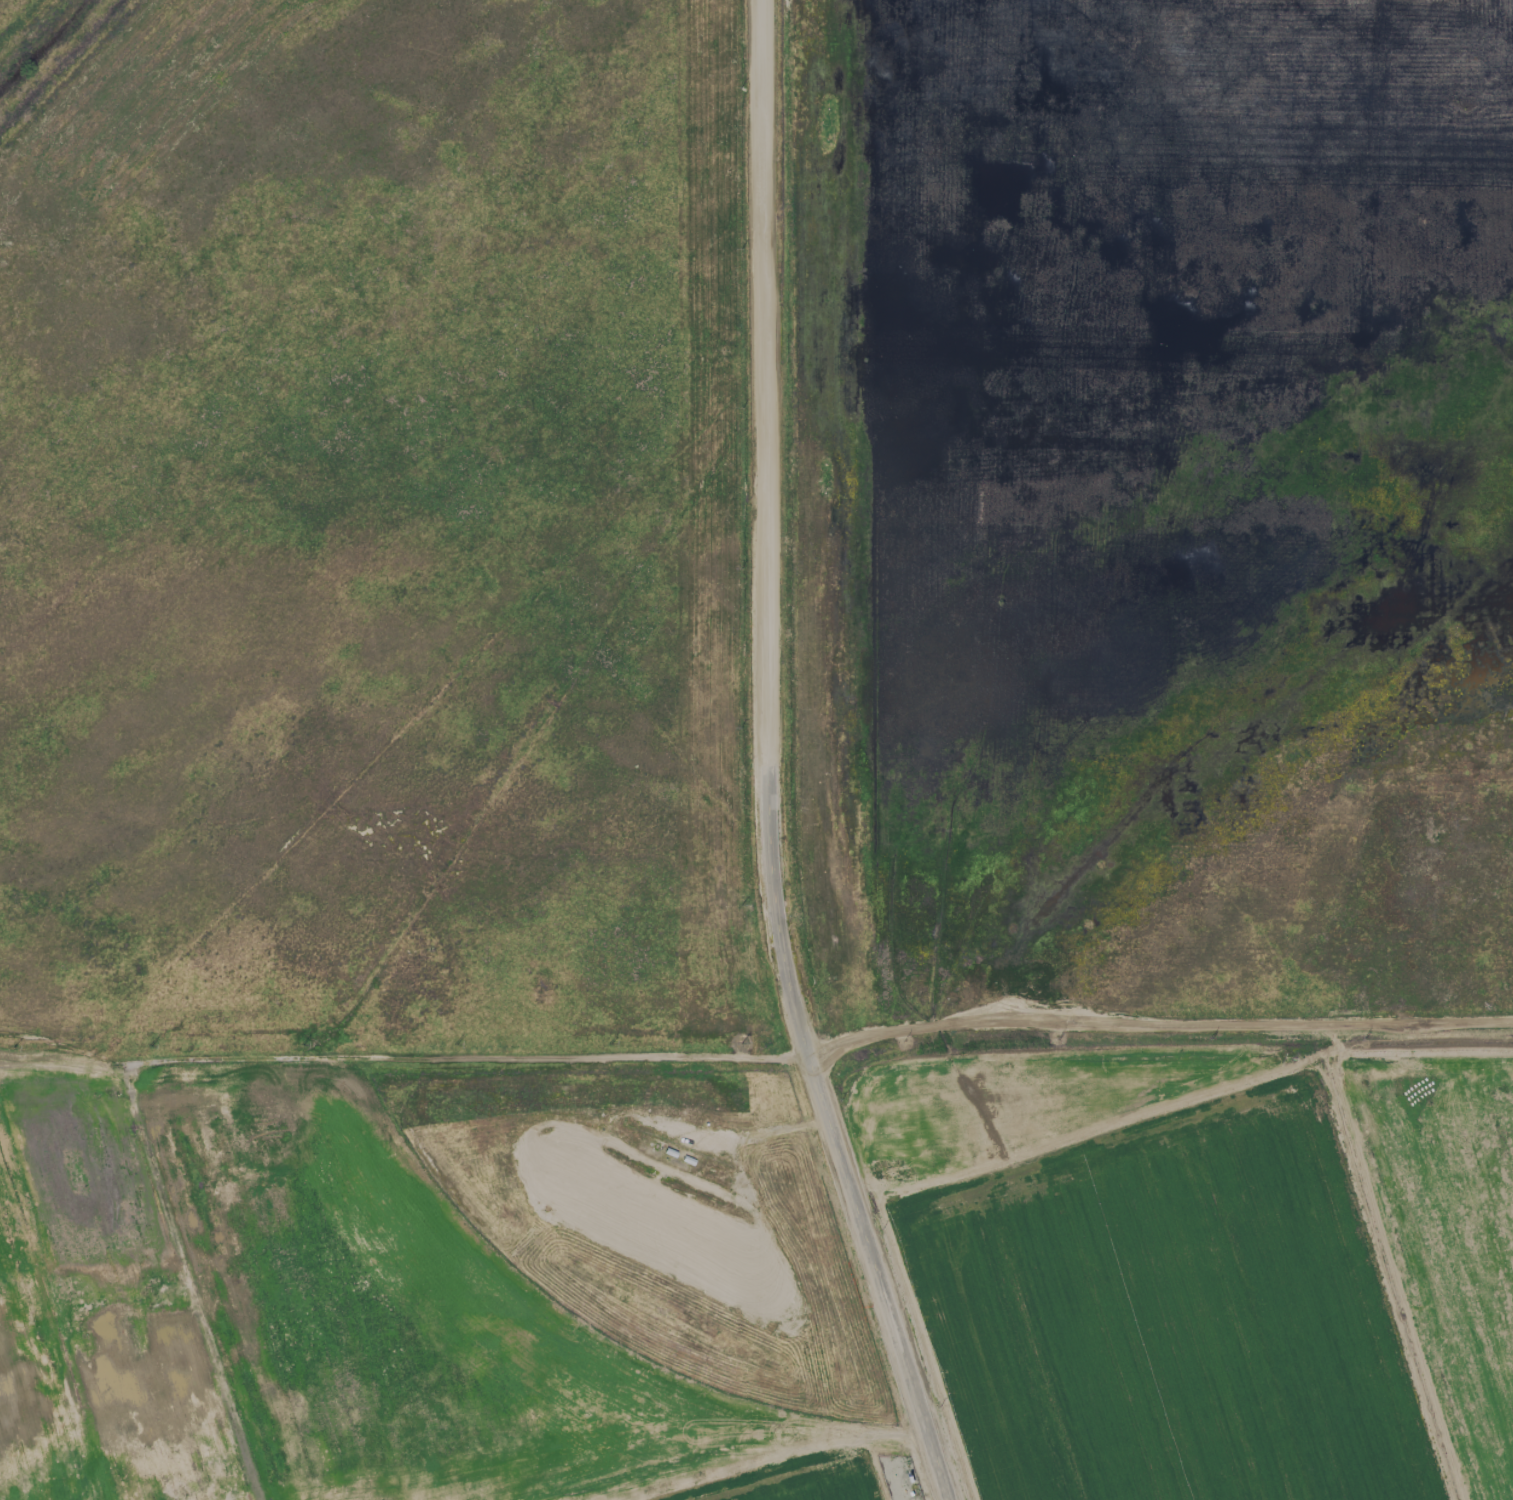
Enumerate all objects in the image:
river: (43, 45)
road: (764, 763)
road: (756, 1057)

